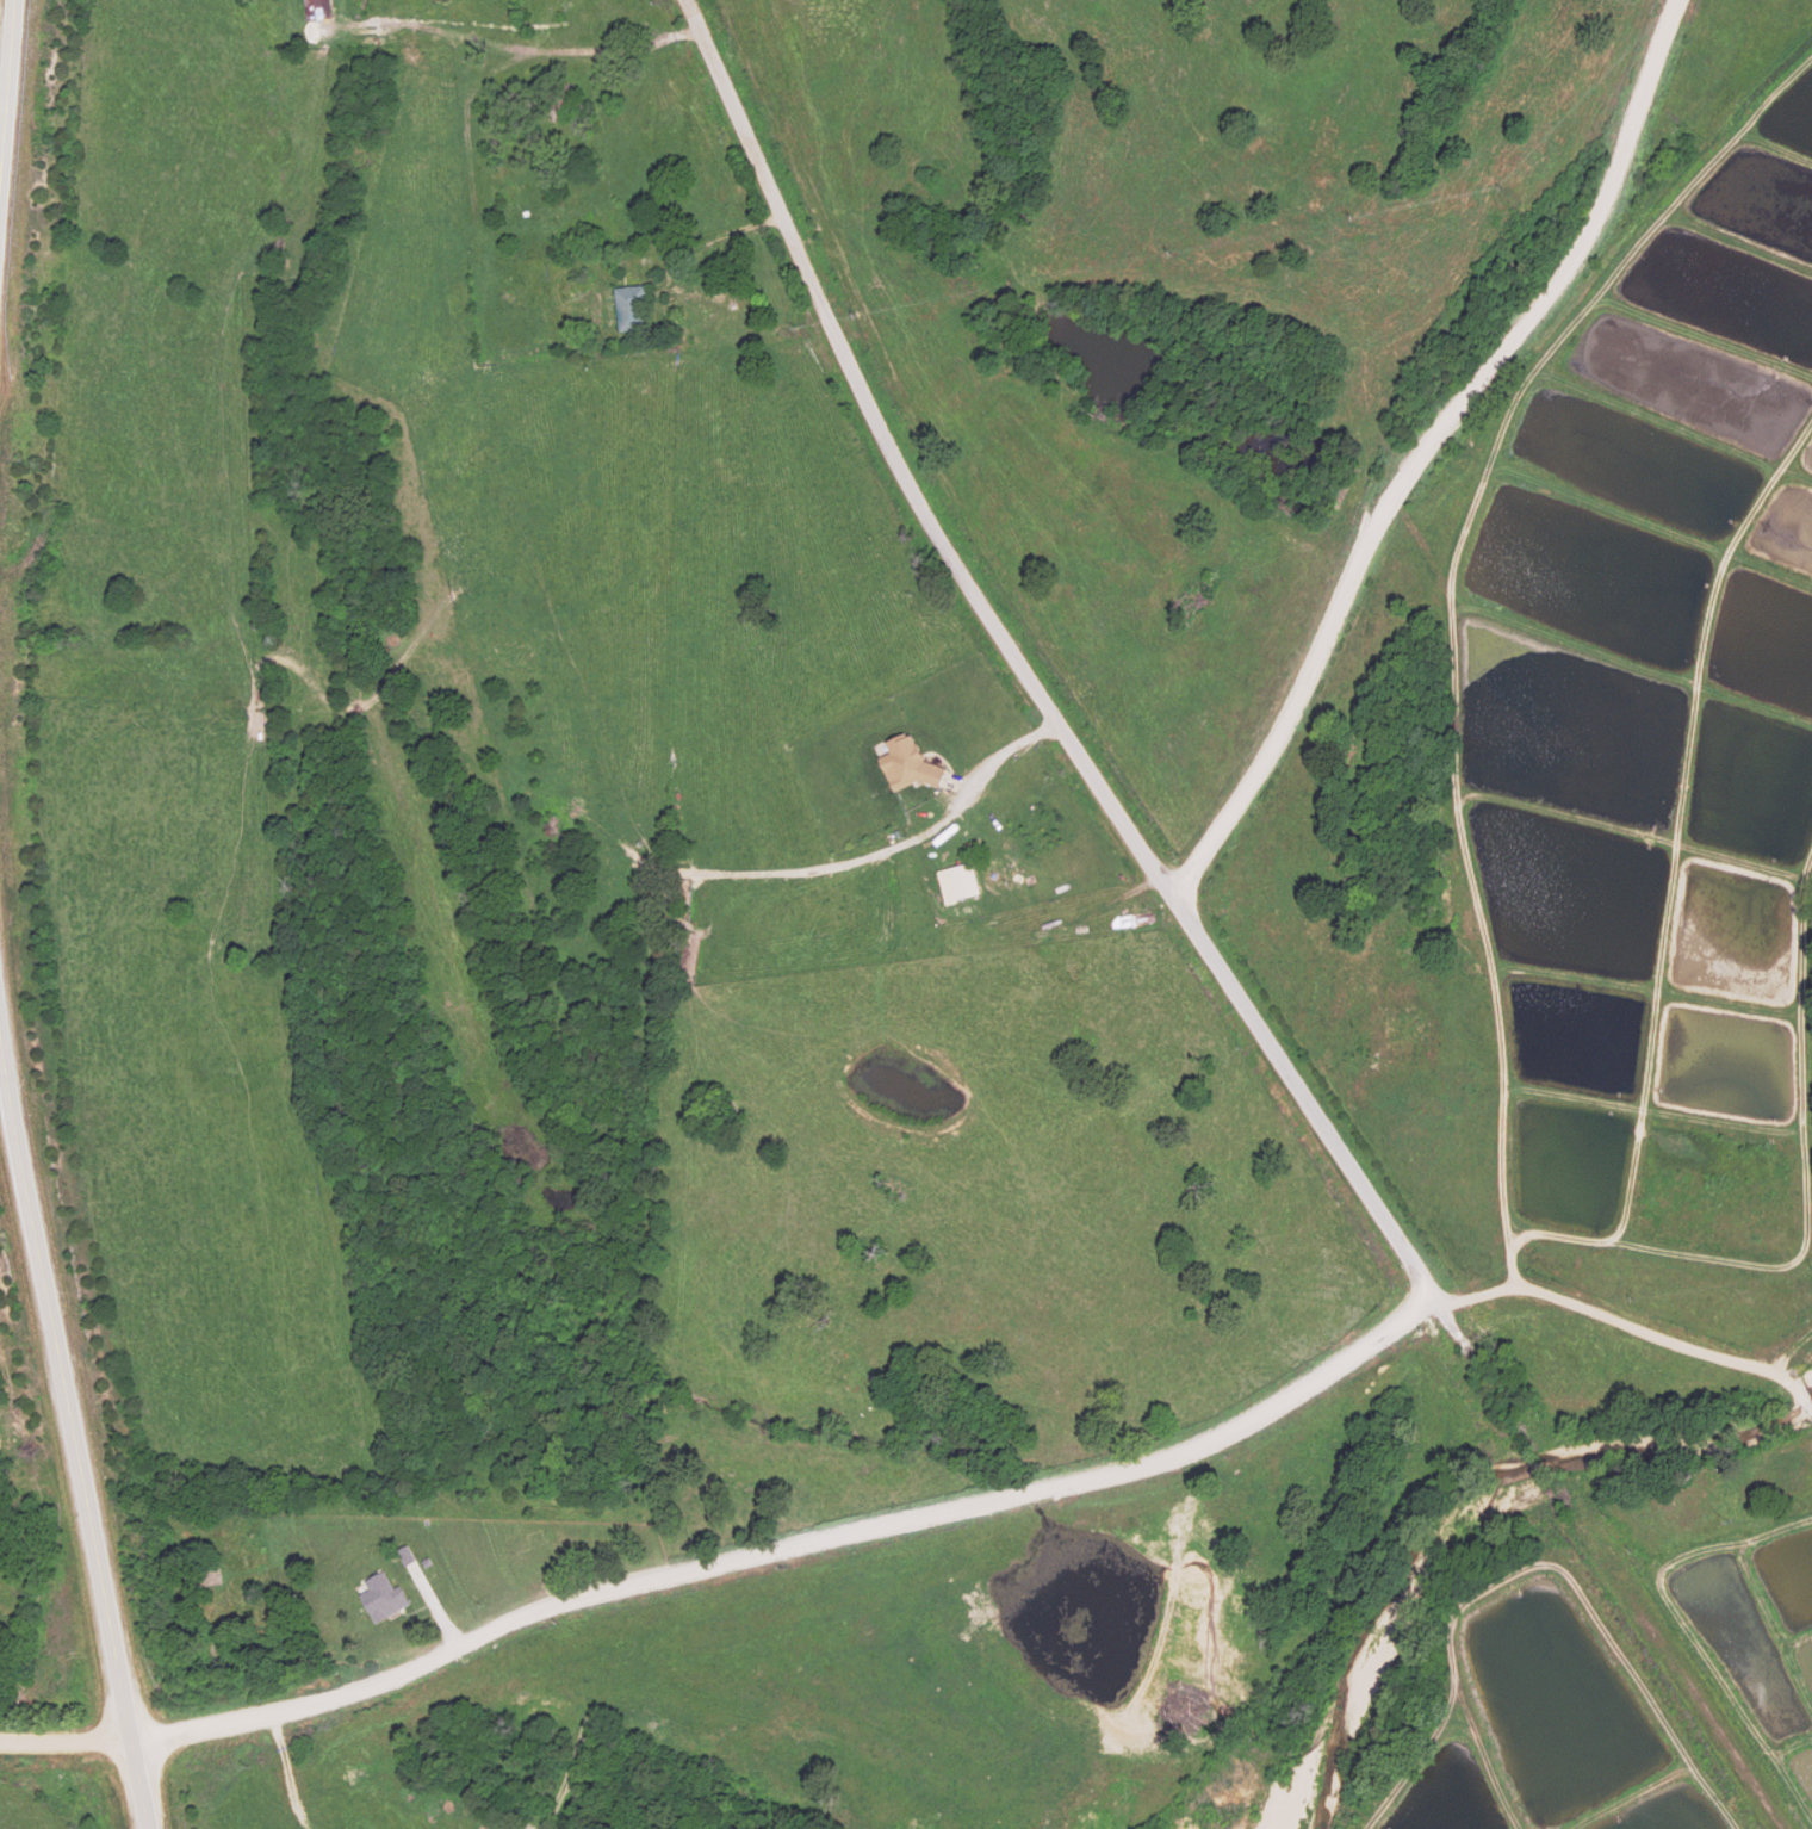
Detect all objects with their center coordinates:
road: (5, 80)
building: (628, 310)
road: (1428, 447)
road: (1018, 665)
building: (905, 765)
building: (958, 883)
road: (1630, 1327)
road: (68, 1452)
road: (727, 1568)
building: (383, 1599)

